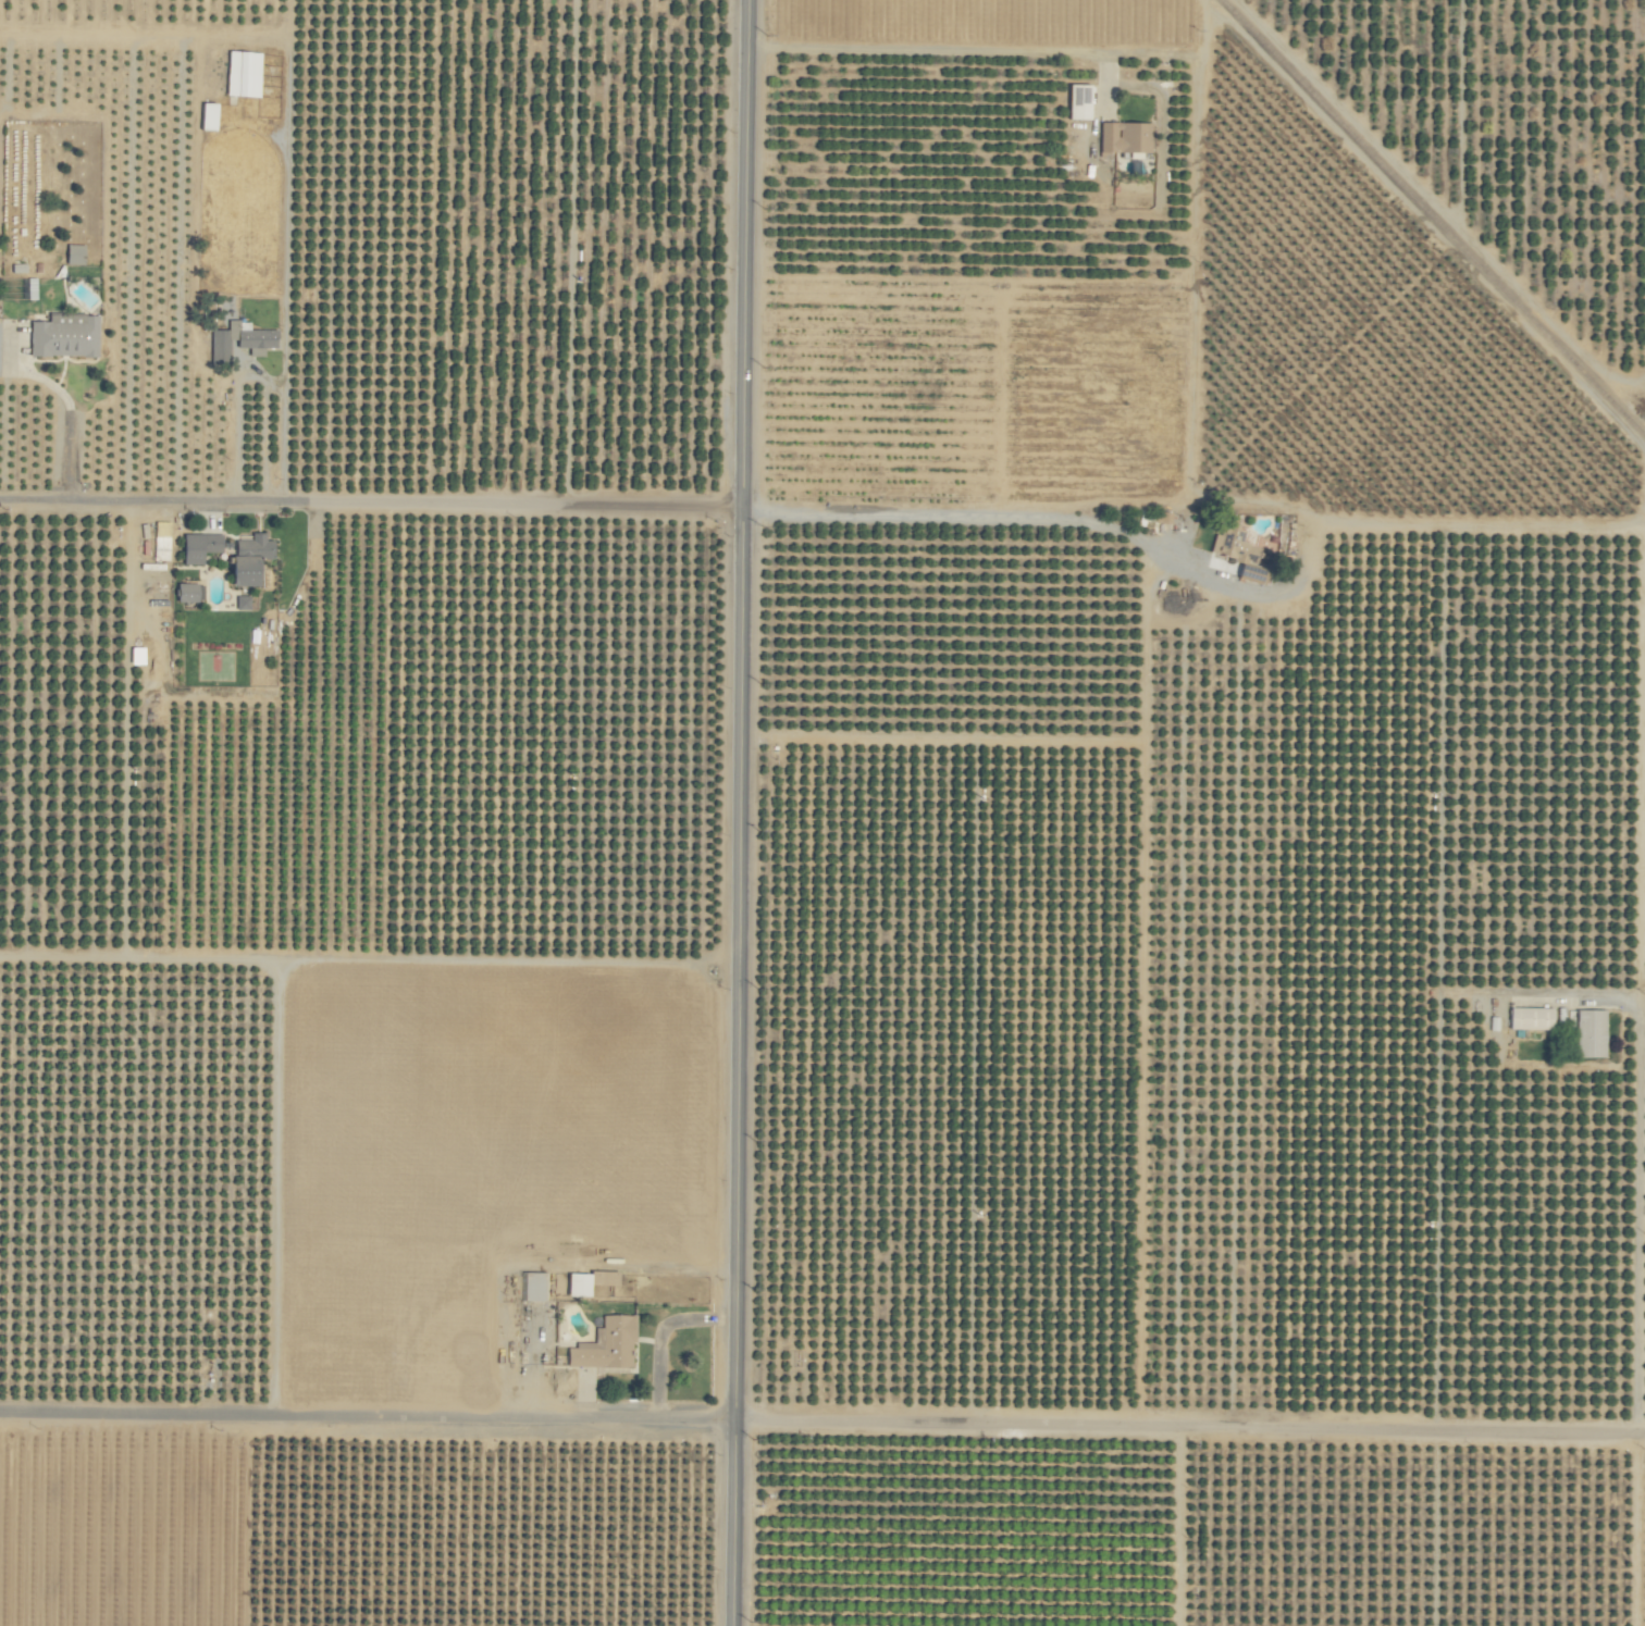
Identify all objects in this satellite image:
road: (948, 51)
building: (245, 73)
building: (1080, 101)
building: (210, 116)
building: (1126, 137)
railway: (1433, 219)
building: (76, 255)
building: (66, 335)
building: (242, 340)
road: (236, 445)
road: (150, 506)
road: (746, 518)
building: (201, 547)
building: (251, 559)
building: (191, 592)
building: (244, 603)
road: (737, 812)
crop: (822, 812)
building: (1532, 1019)
building: (1592, 1033)
road: (1637, 1226)
road: (534, 1265)
building: (591, 1282)
building: (535, 1287)
building: (607, 1345)
road: (822, 1426)

